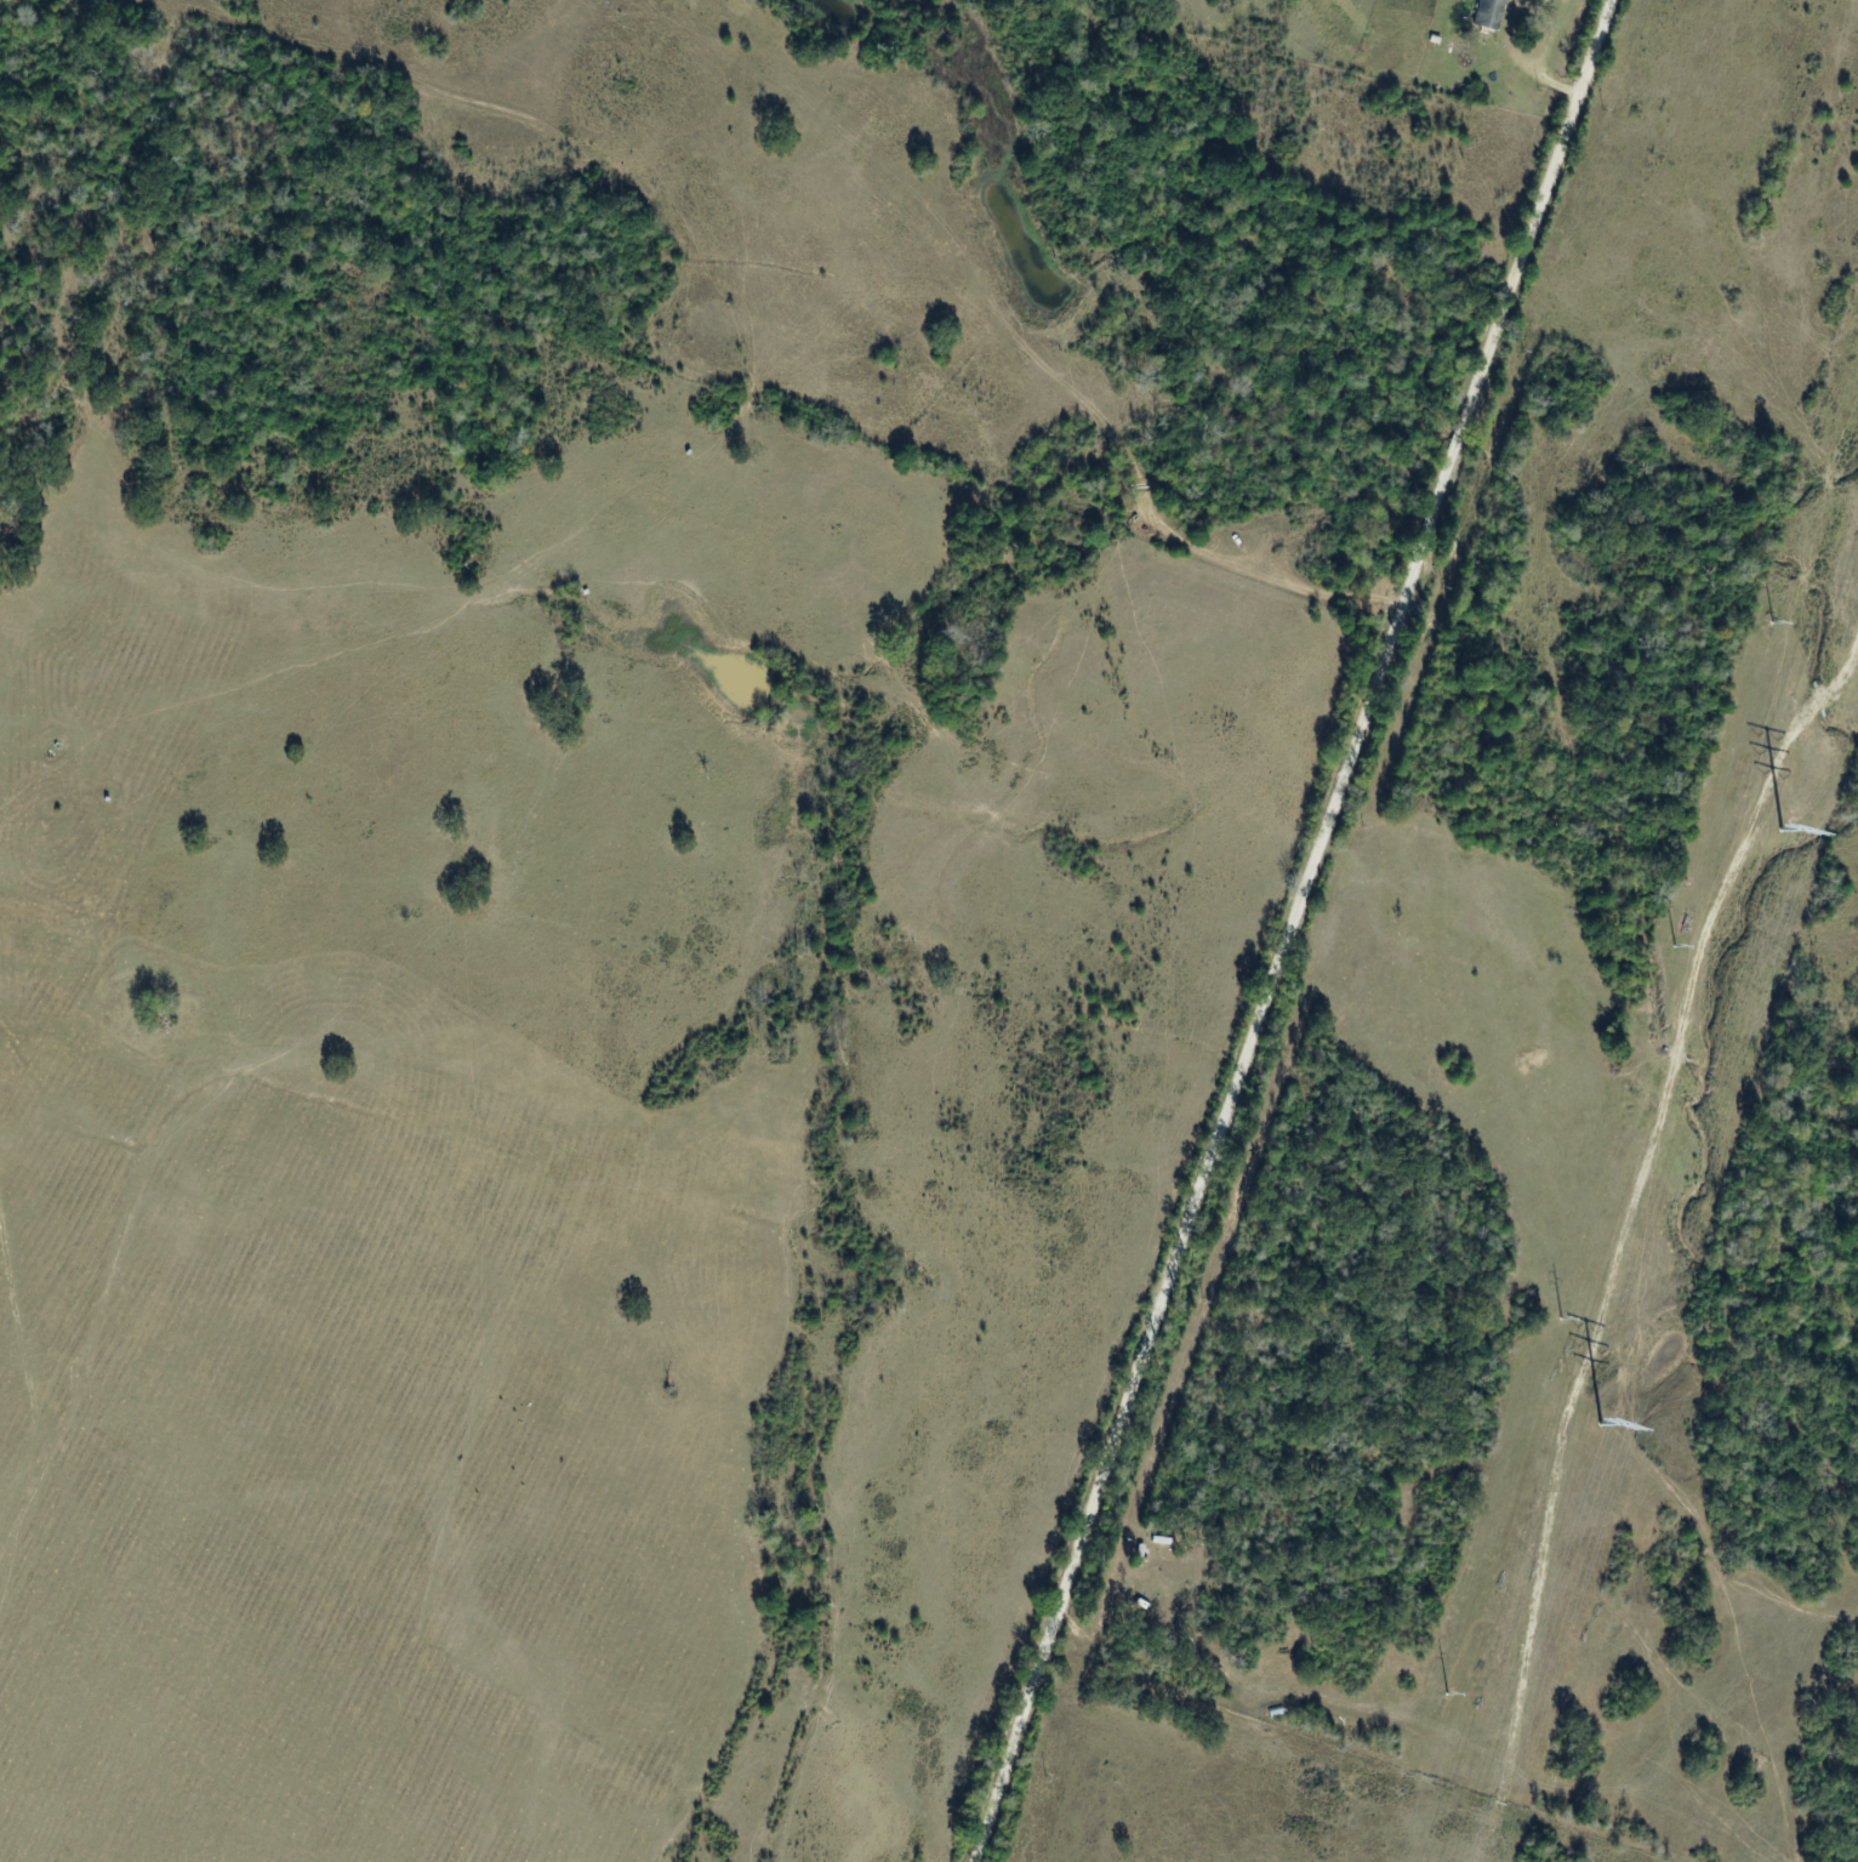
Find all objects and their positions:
building: (1492, 13)
power tower: (1774, 620)
road: (1301, 930)
power tower: (1675, 946)
power tower: (1560, 1319)
power tower: (1447, 1693)

